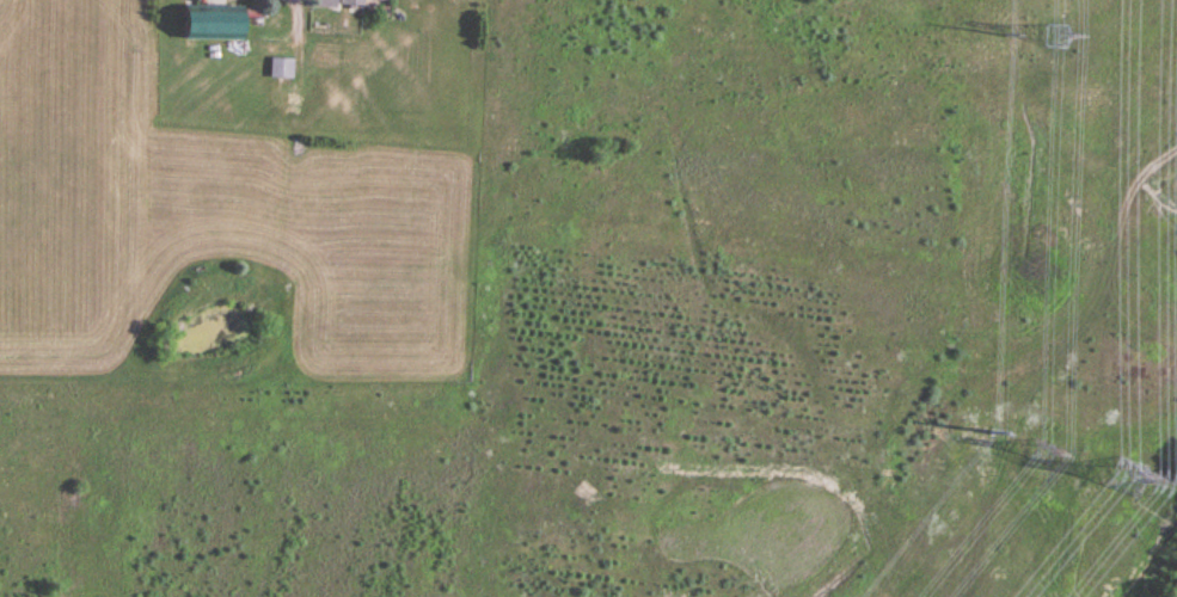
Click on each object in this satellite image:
building: (367, 2)
building: (325, 4)
building: (213, 23)
power tower: (1007, 36)
power tower: (1058, 39)
building: (283, 69)
crop: (608, 315)
power tower: (991, 438)
power tower: (1042, 451)
power tower: (1132, 479)

